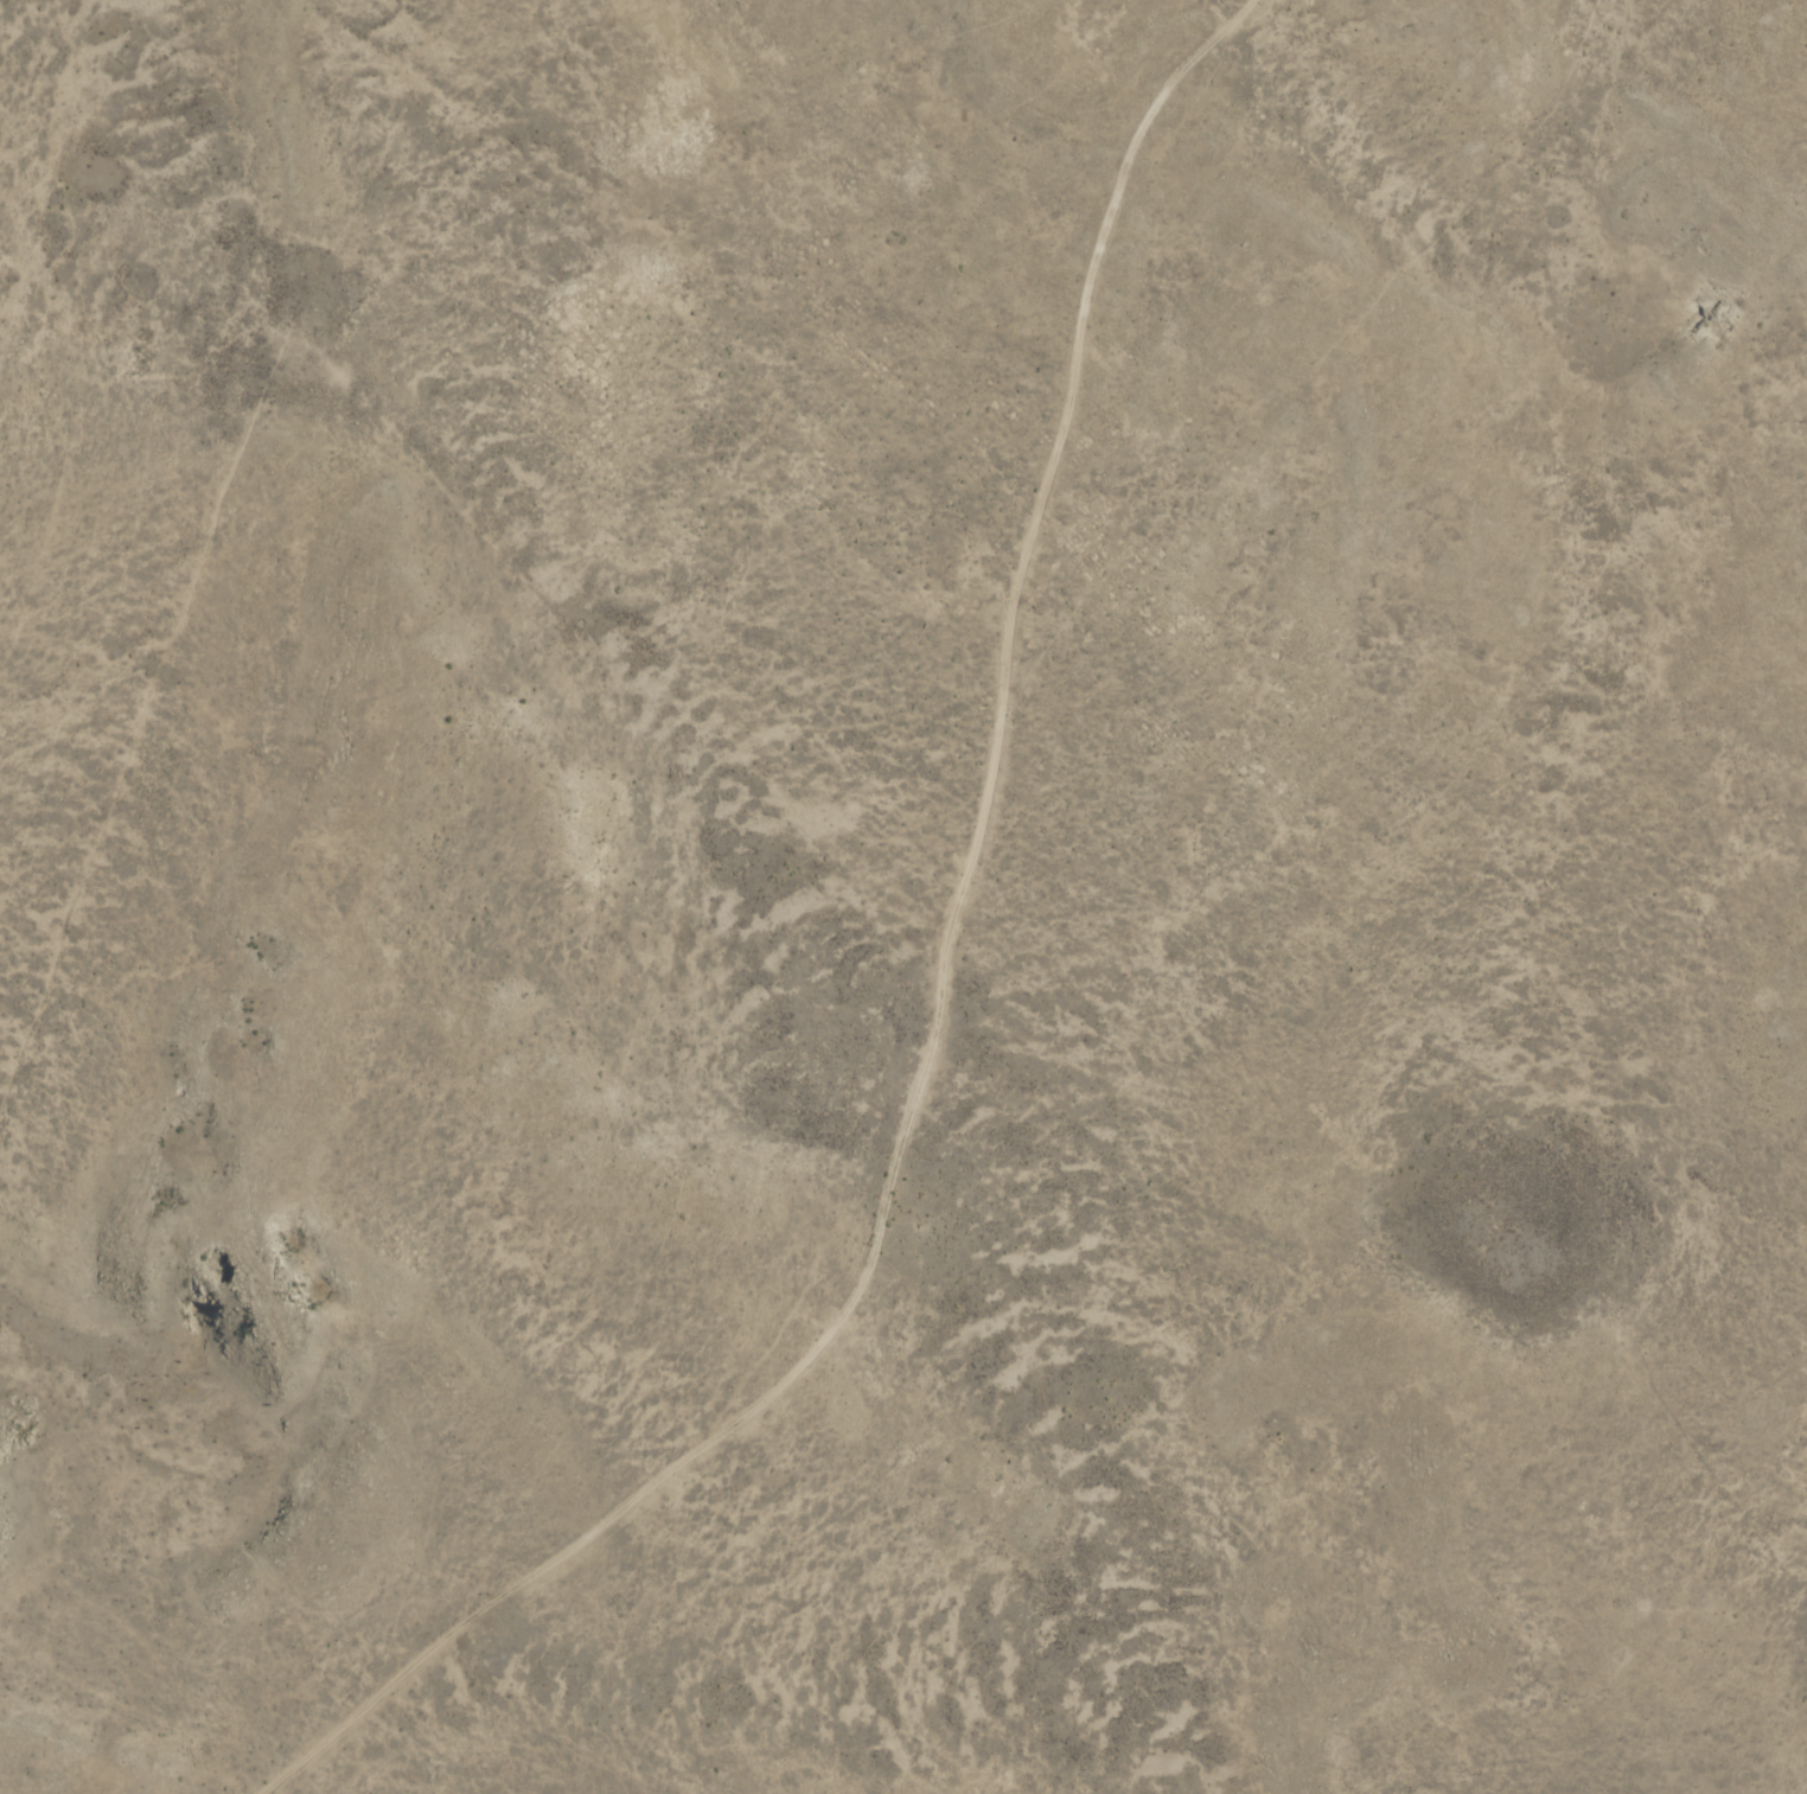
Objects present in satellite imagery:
road: (936, 1009)

